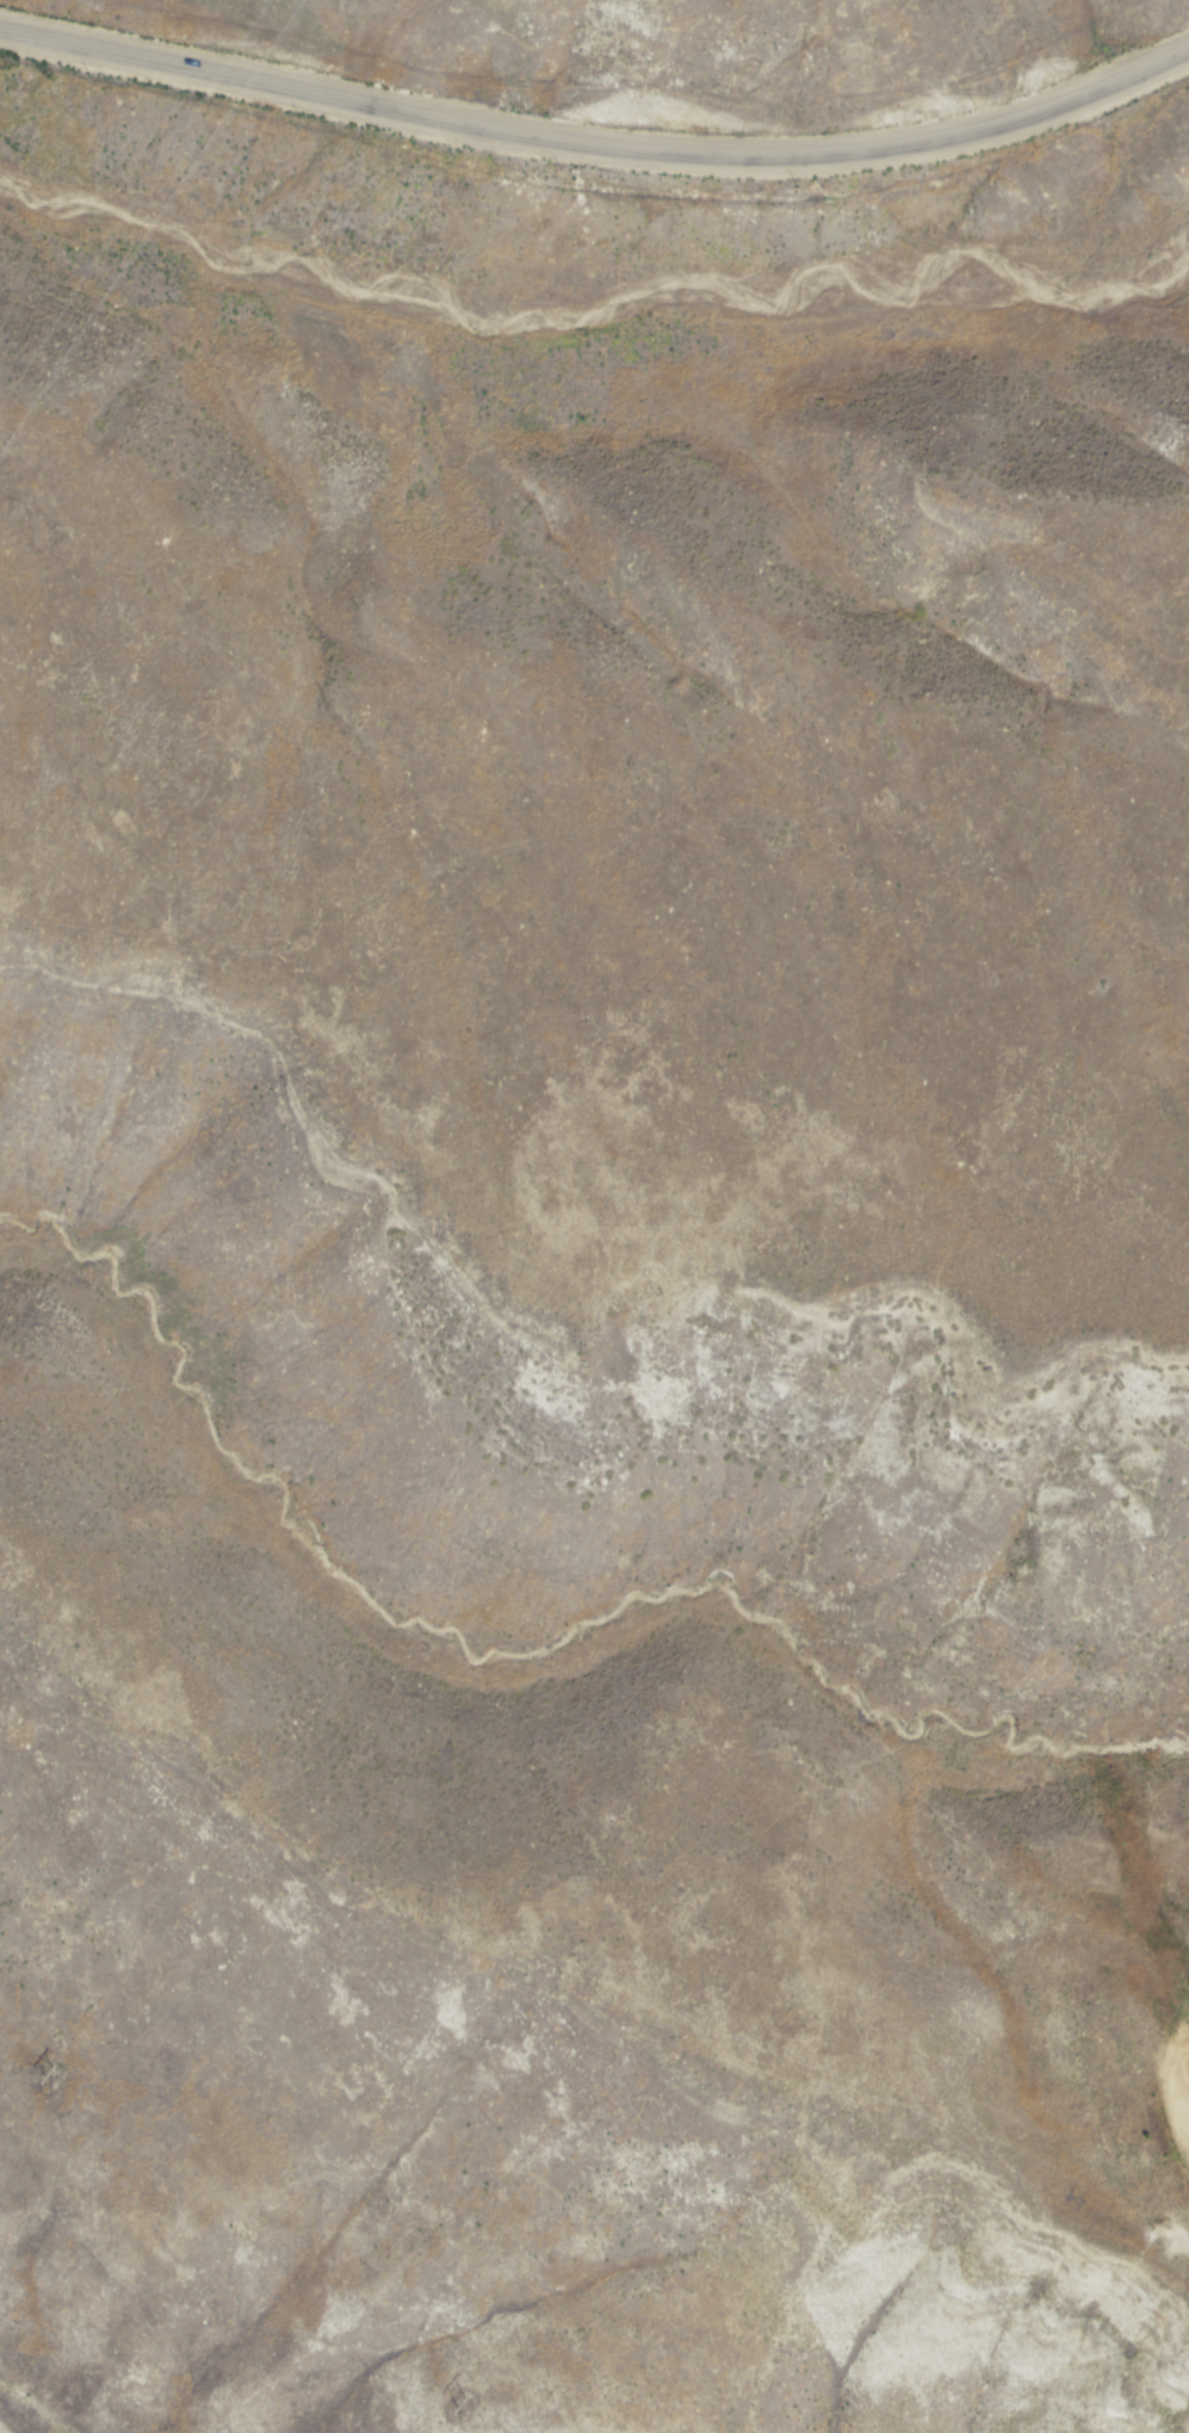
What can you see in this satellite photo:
road: (596, 147)

